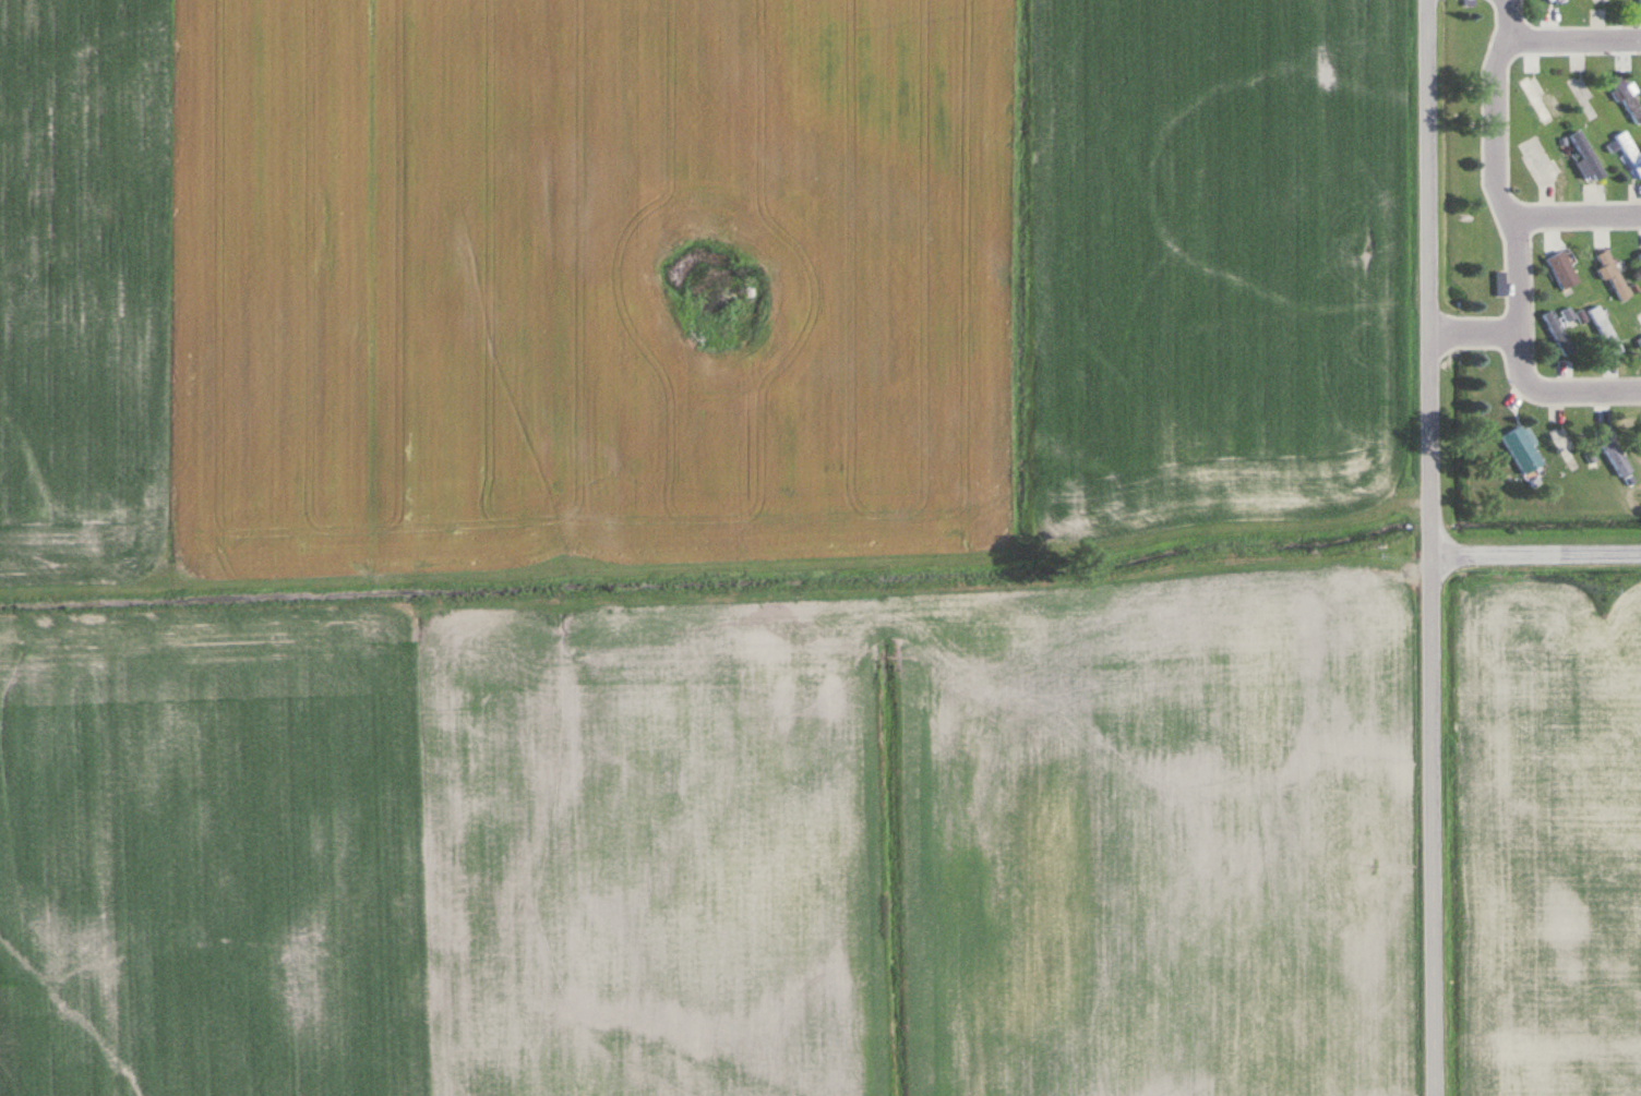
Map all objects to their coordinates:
building: (1640, 1)
building: (1562, 2)
building: (1607, 2)
road: (1507, 20)
road: (1584, 39)
building: (1628, 97)
building: (1583, 99)
building: (1537, 100)
building: (1630, 150)
building: (1588, 155)
building: (1538, 156)
road: (1496, 178)
road: (1577, 217)
building: (1554, 239)
building: (1640, 256)
building: (1564, 266)
building: (1613, 274)
building: (1500, 282)
building: (1569, 317)
building: (1640, 317)
building: (1606, 329)
building: (1558, 333)
road: (1472, 335)
road: (1557, 392)
building: (1640, 430)
building: (1520, 446)
building: (1612, 449)
building: (1567, 451)
road: (1432, 547)
road: (1536, 551)

